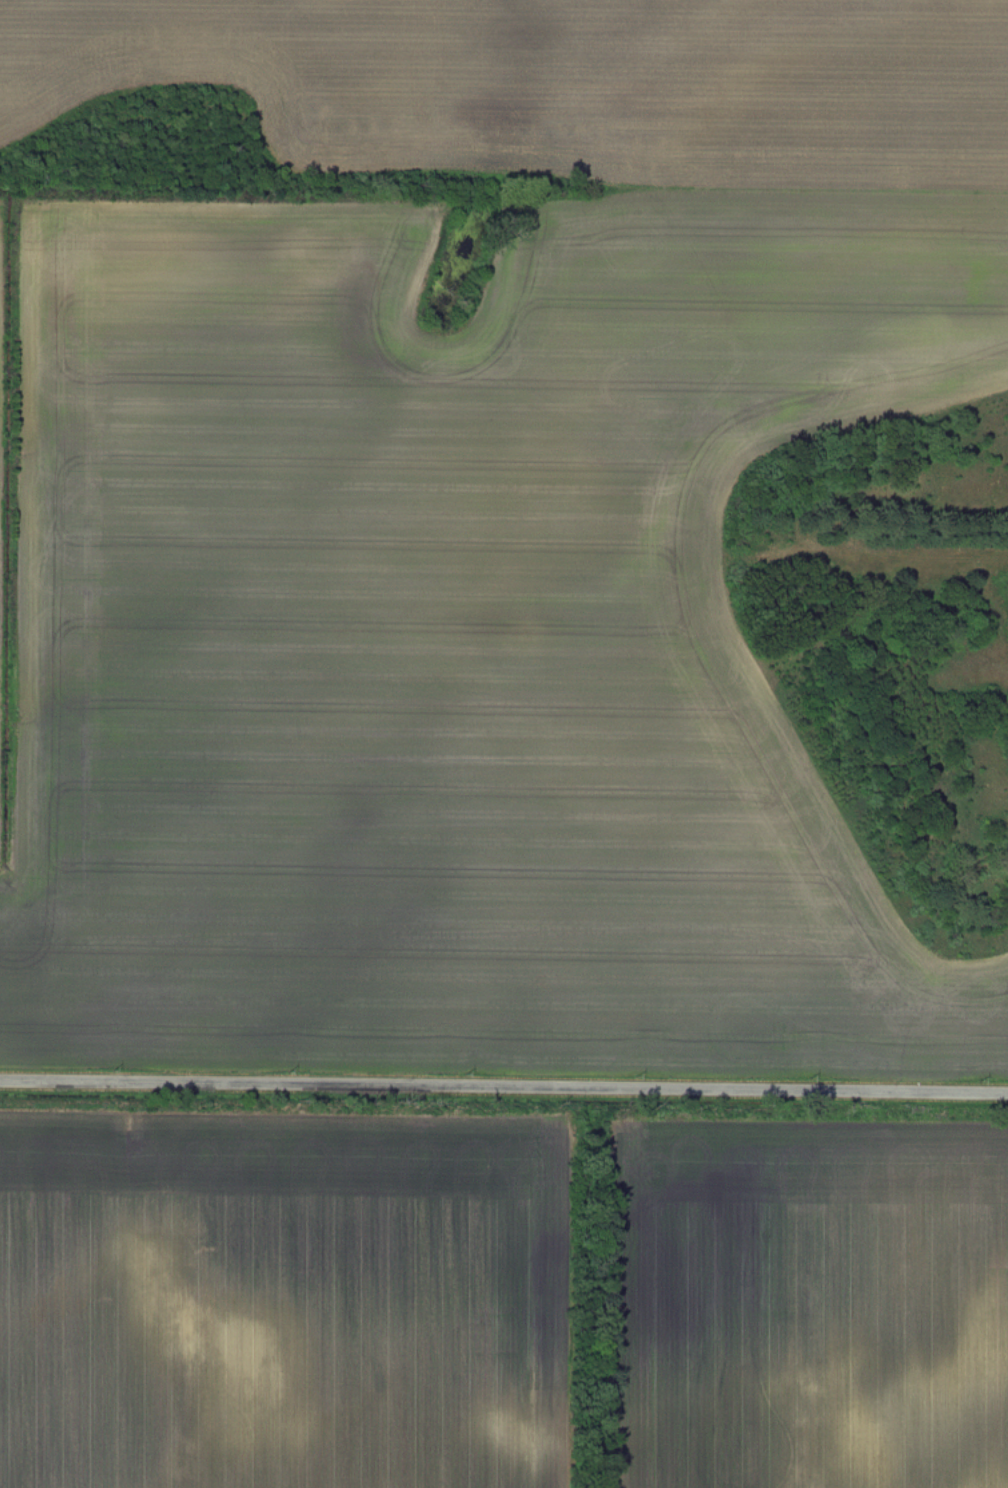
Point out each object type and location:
road: (504, 1080)

